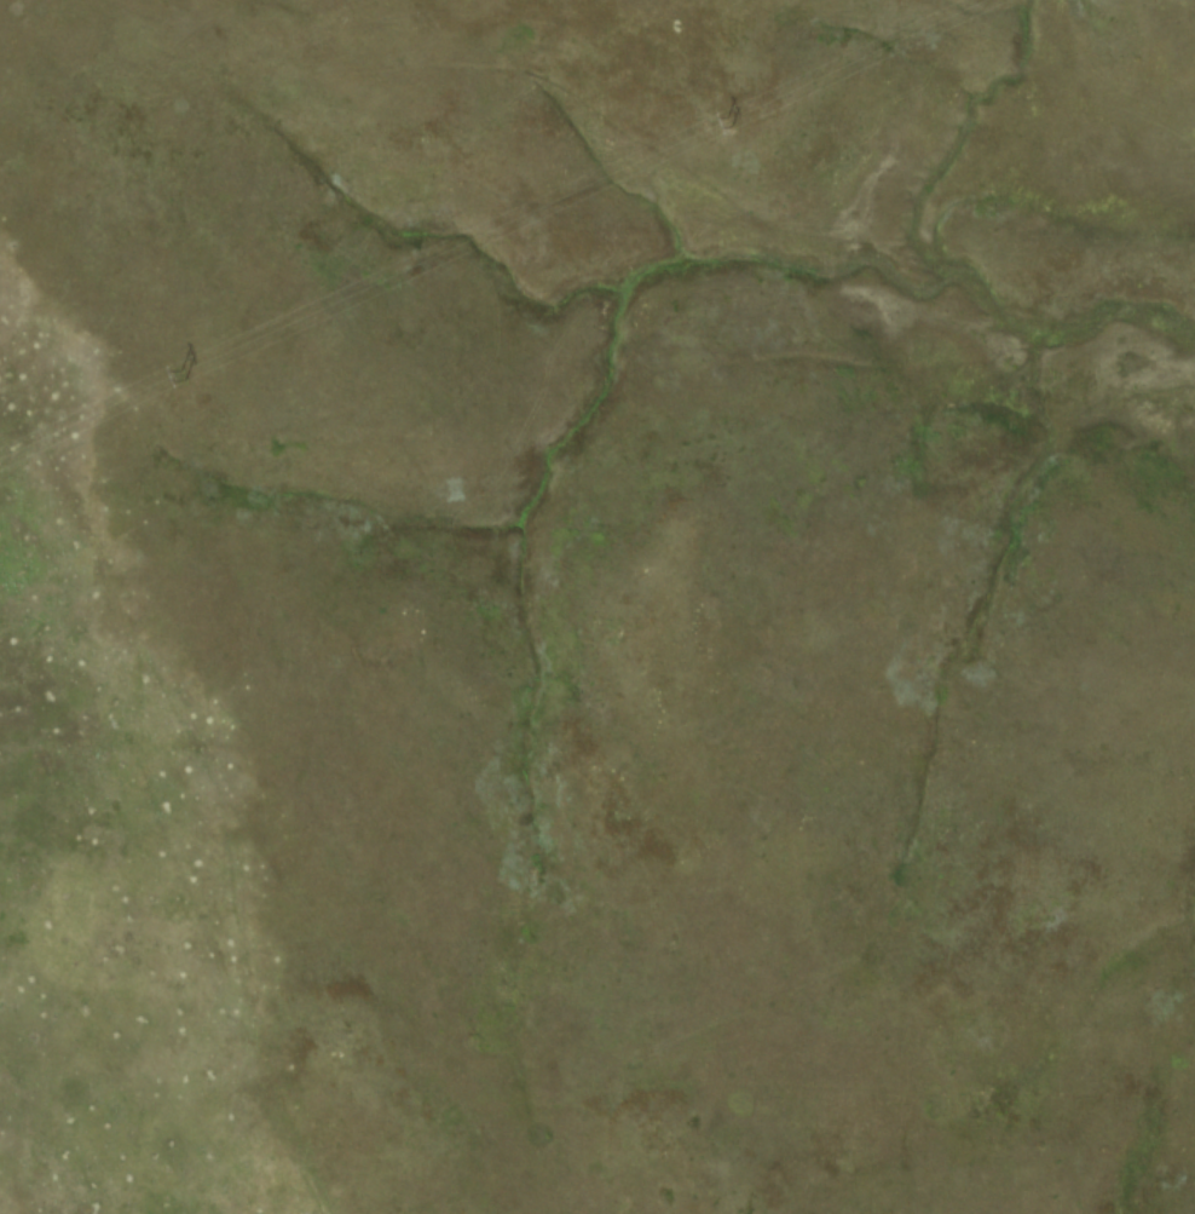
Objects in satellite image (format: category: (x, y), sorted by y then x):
power tower: (715, 126)
power tower: (177, 376)
road: (290, 844)

